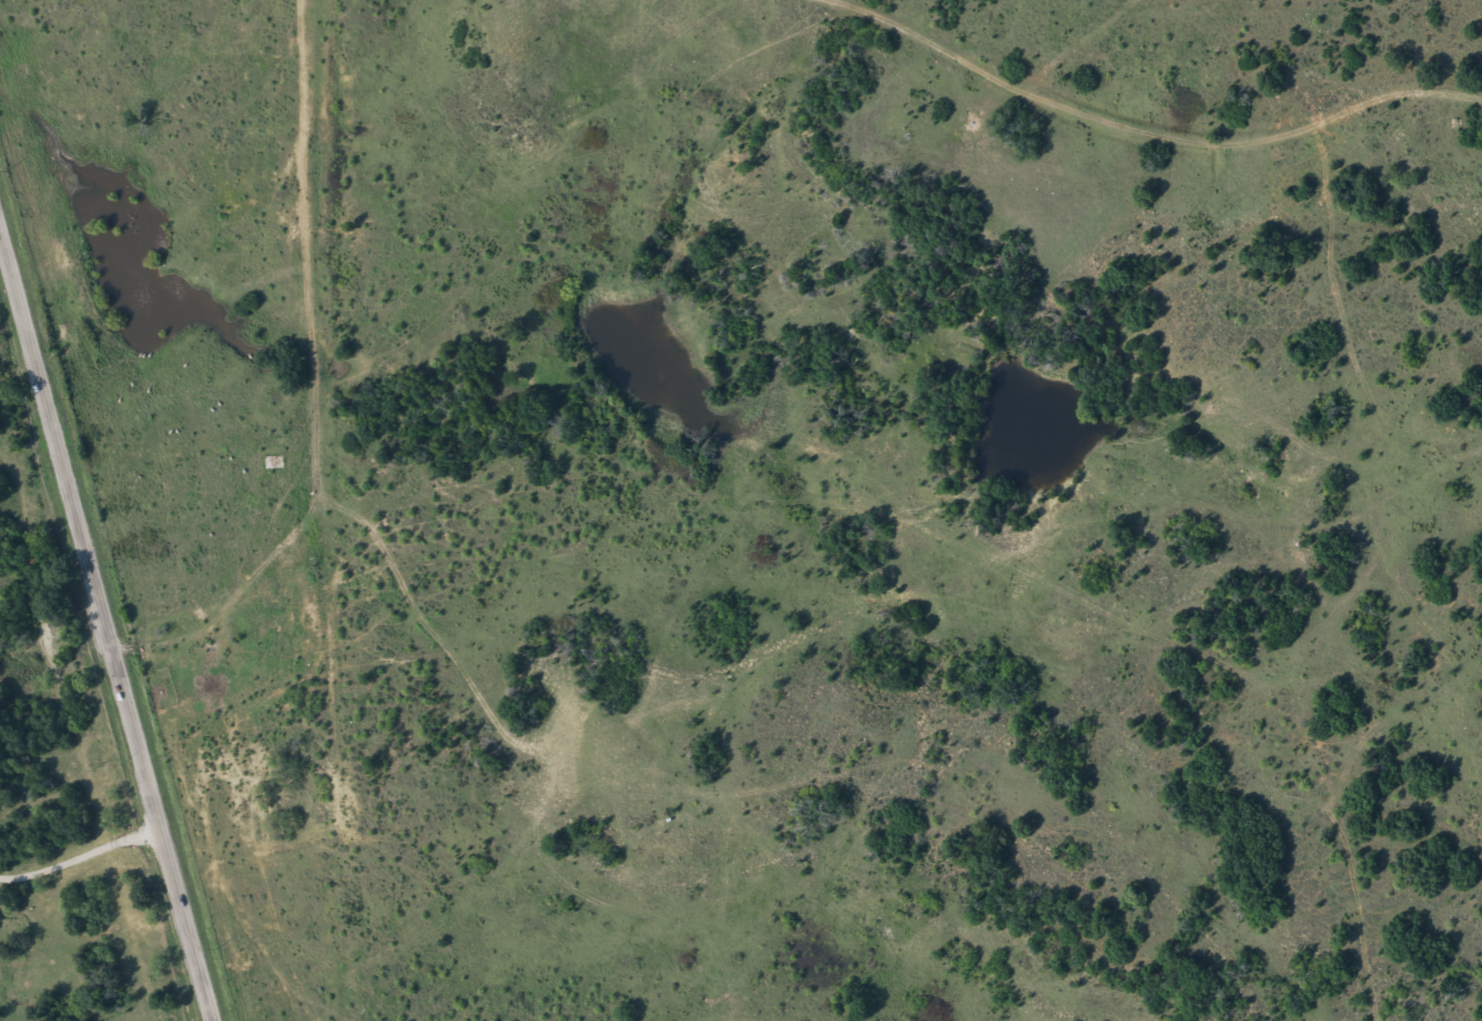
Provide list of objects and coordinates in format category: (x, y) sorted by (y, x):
road: (1104, 138)
building: (274, 465)
building: (282, 597)
road: (113, 599)
building: (264, 632)

